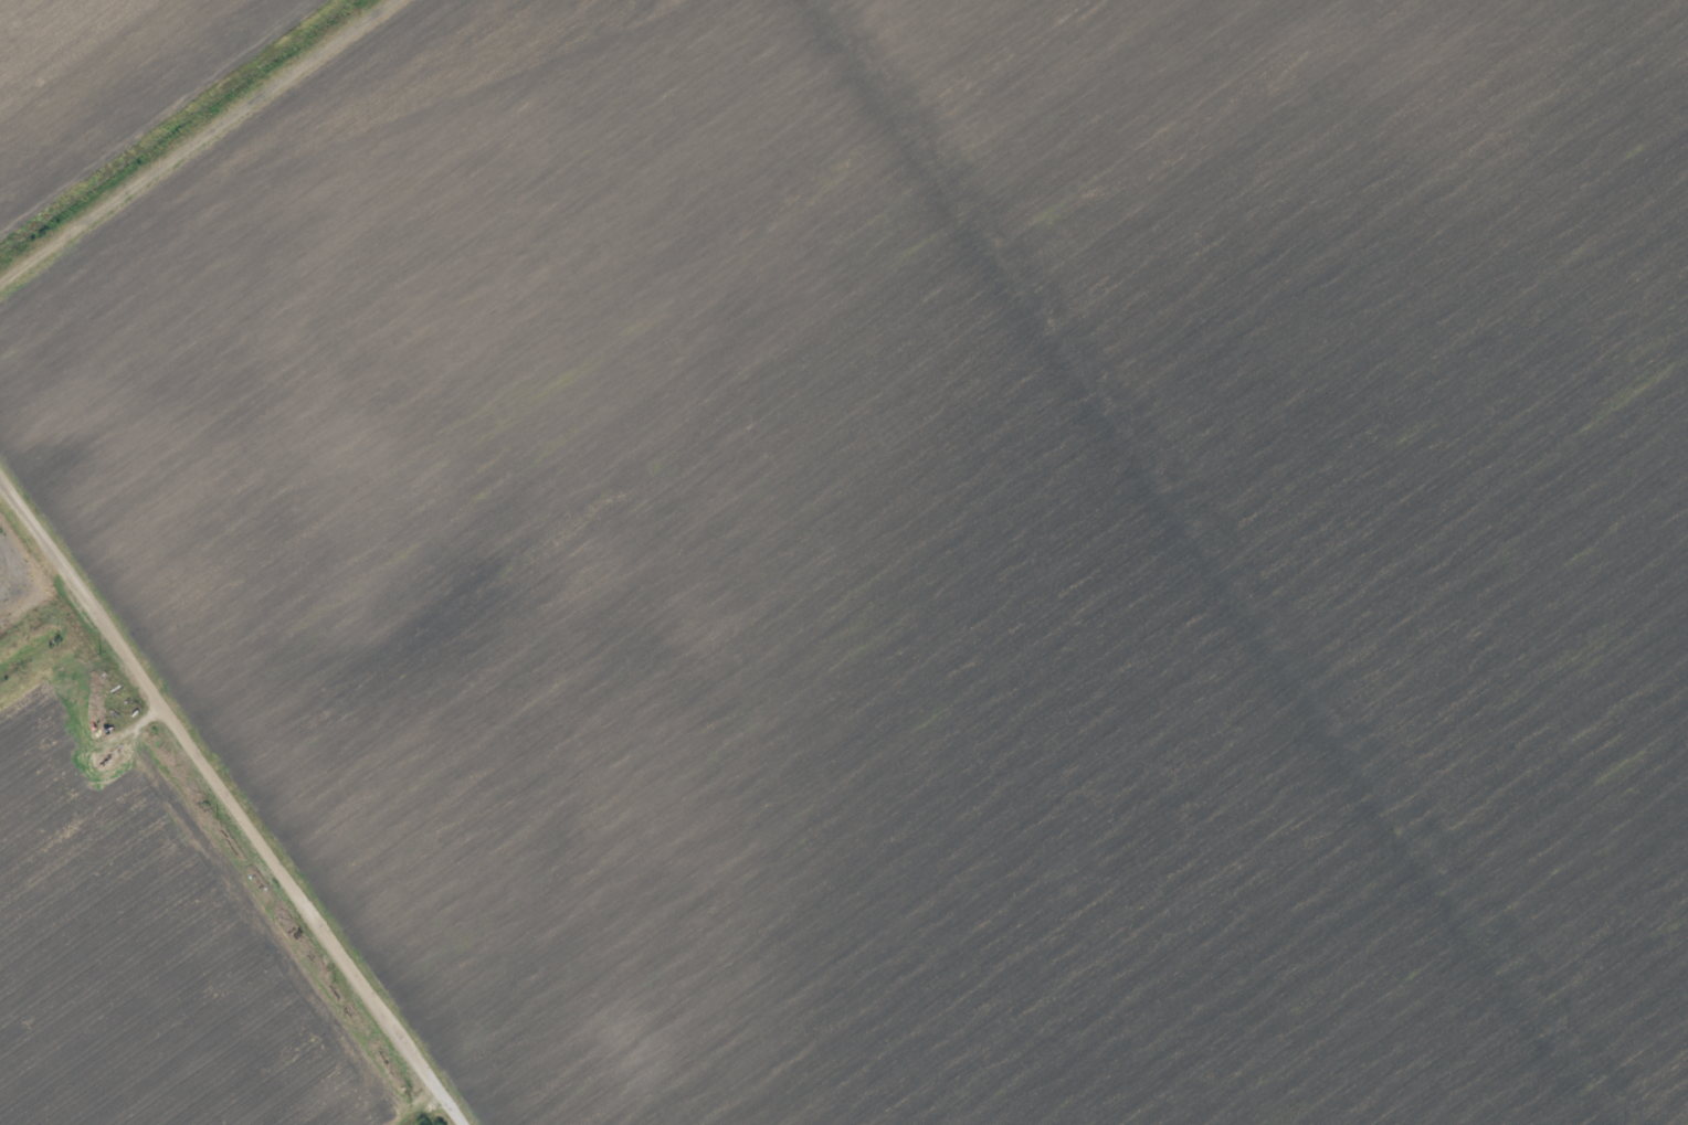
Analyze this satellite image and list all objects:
road: (201, 144)
road: (236, 798)

